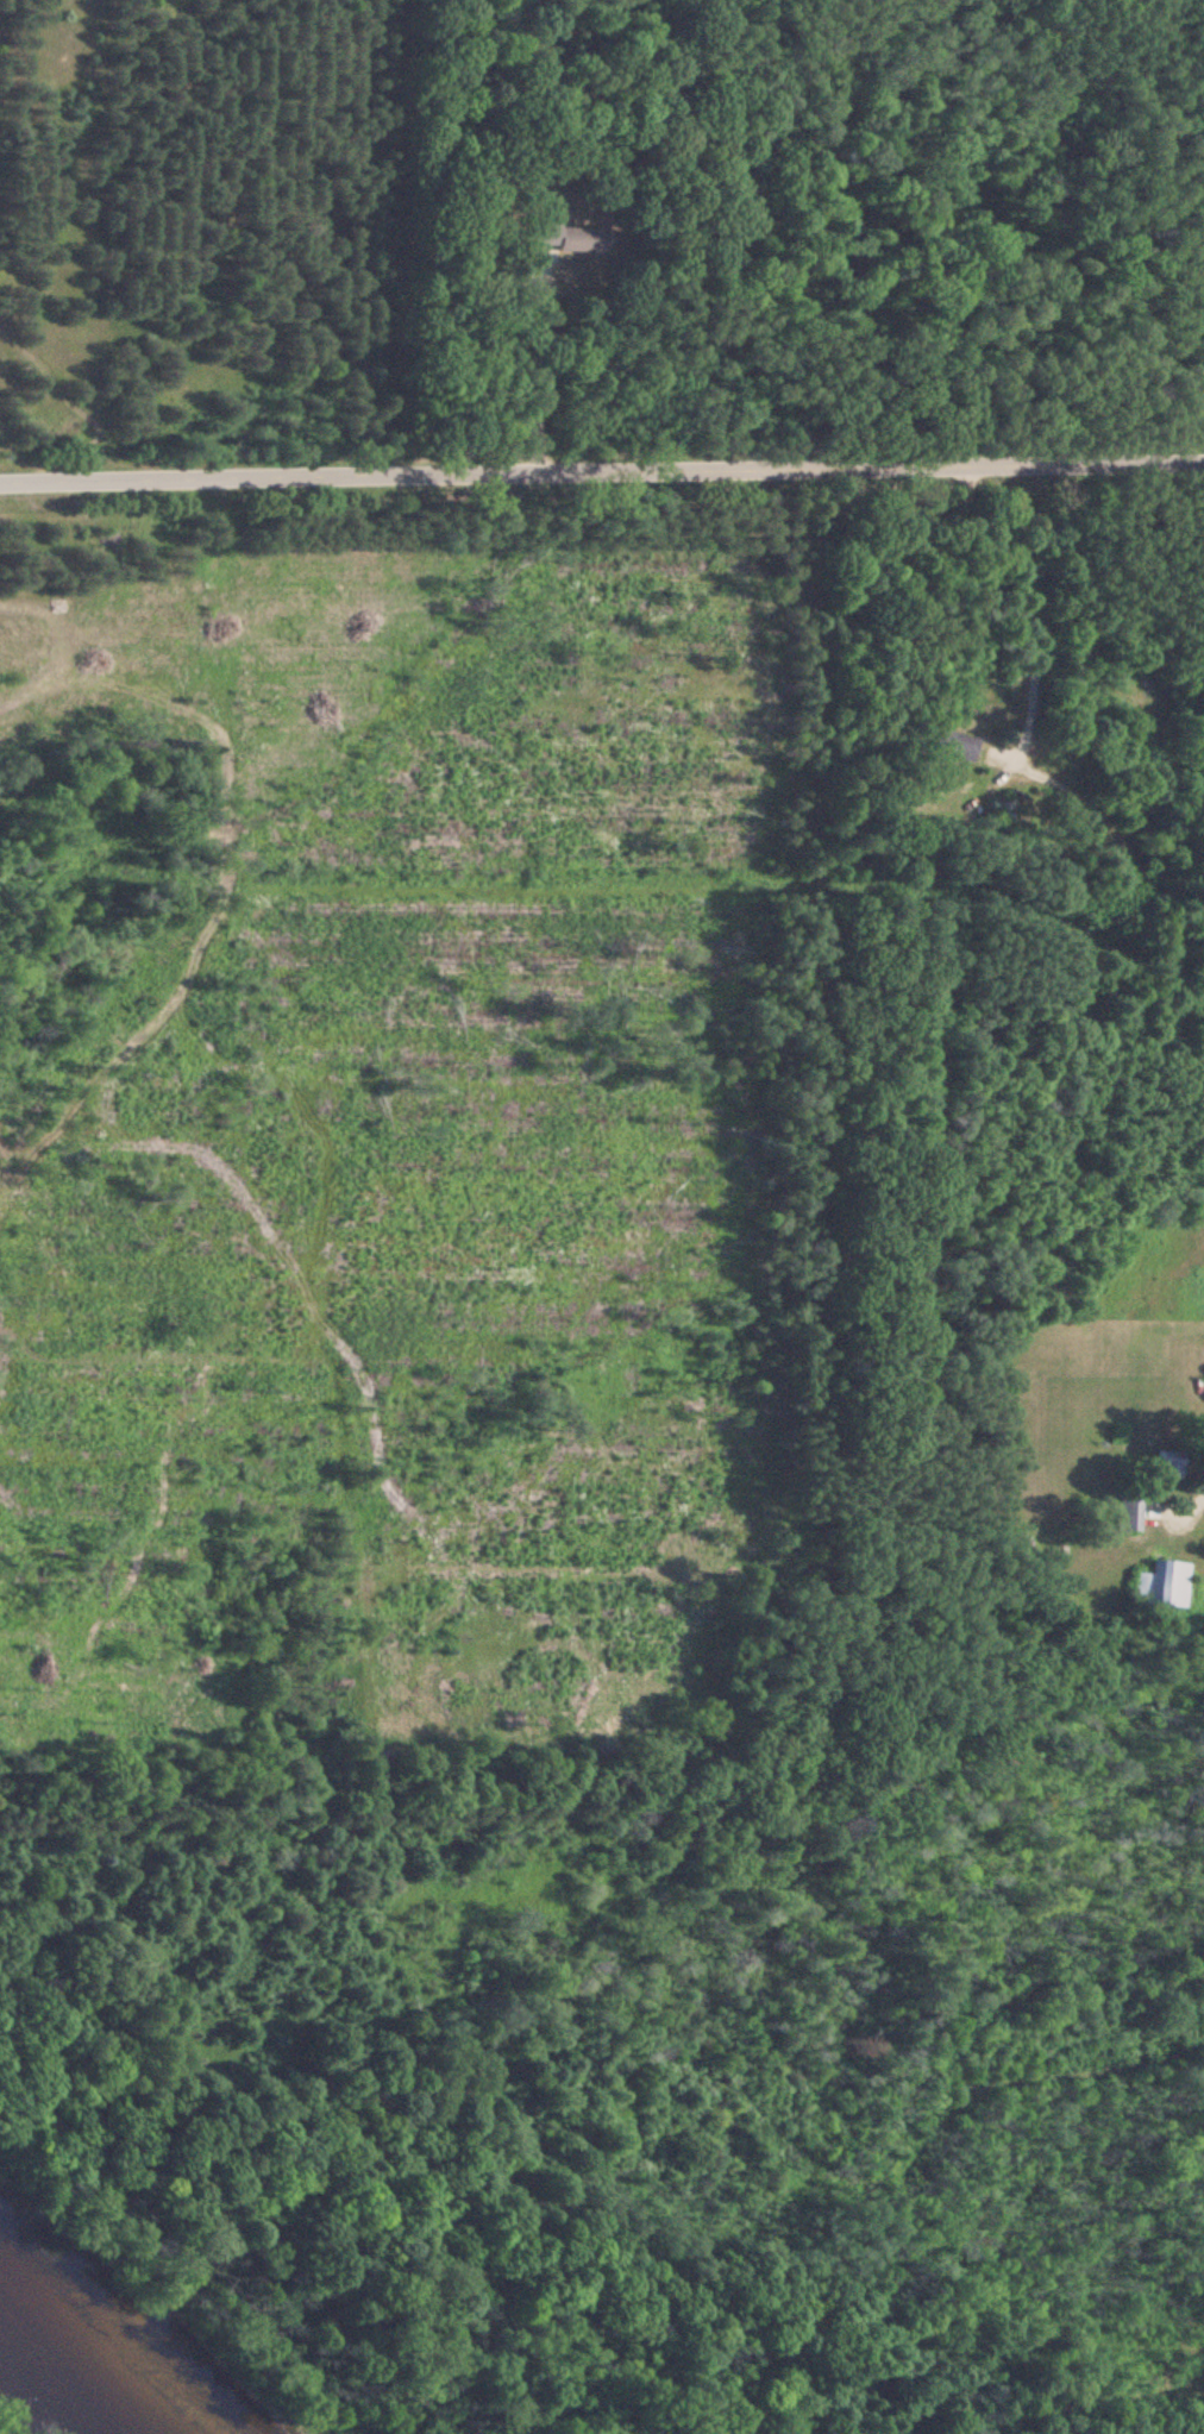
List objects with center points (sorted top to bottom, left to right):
road: (539, 358)
road: (601, 460)
road: (1022, 604)
building: (1203, 1373)
road: (1184, 1495)
building: (1123, 1516)
building: (1154, 1585)
river: (75, 2370)

